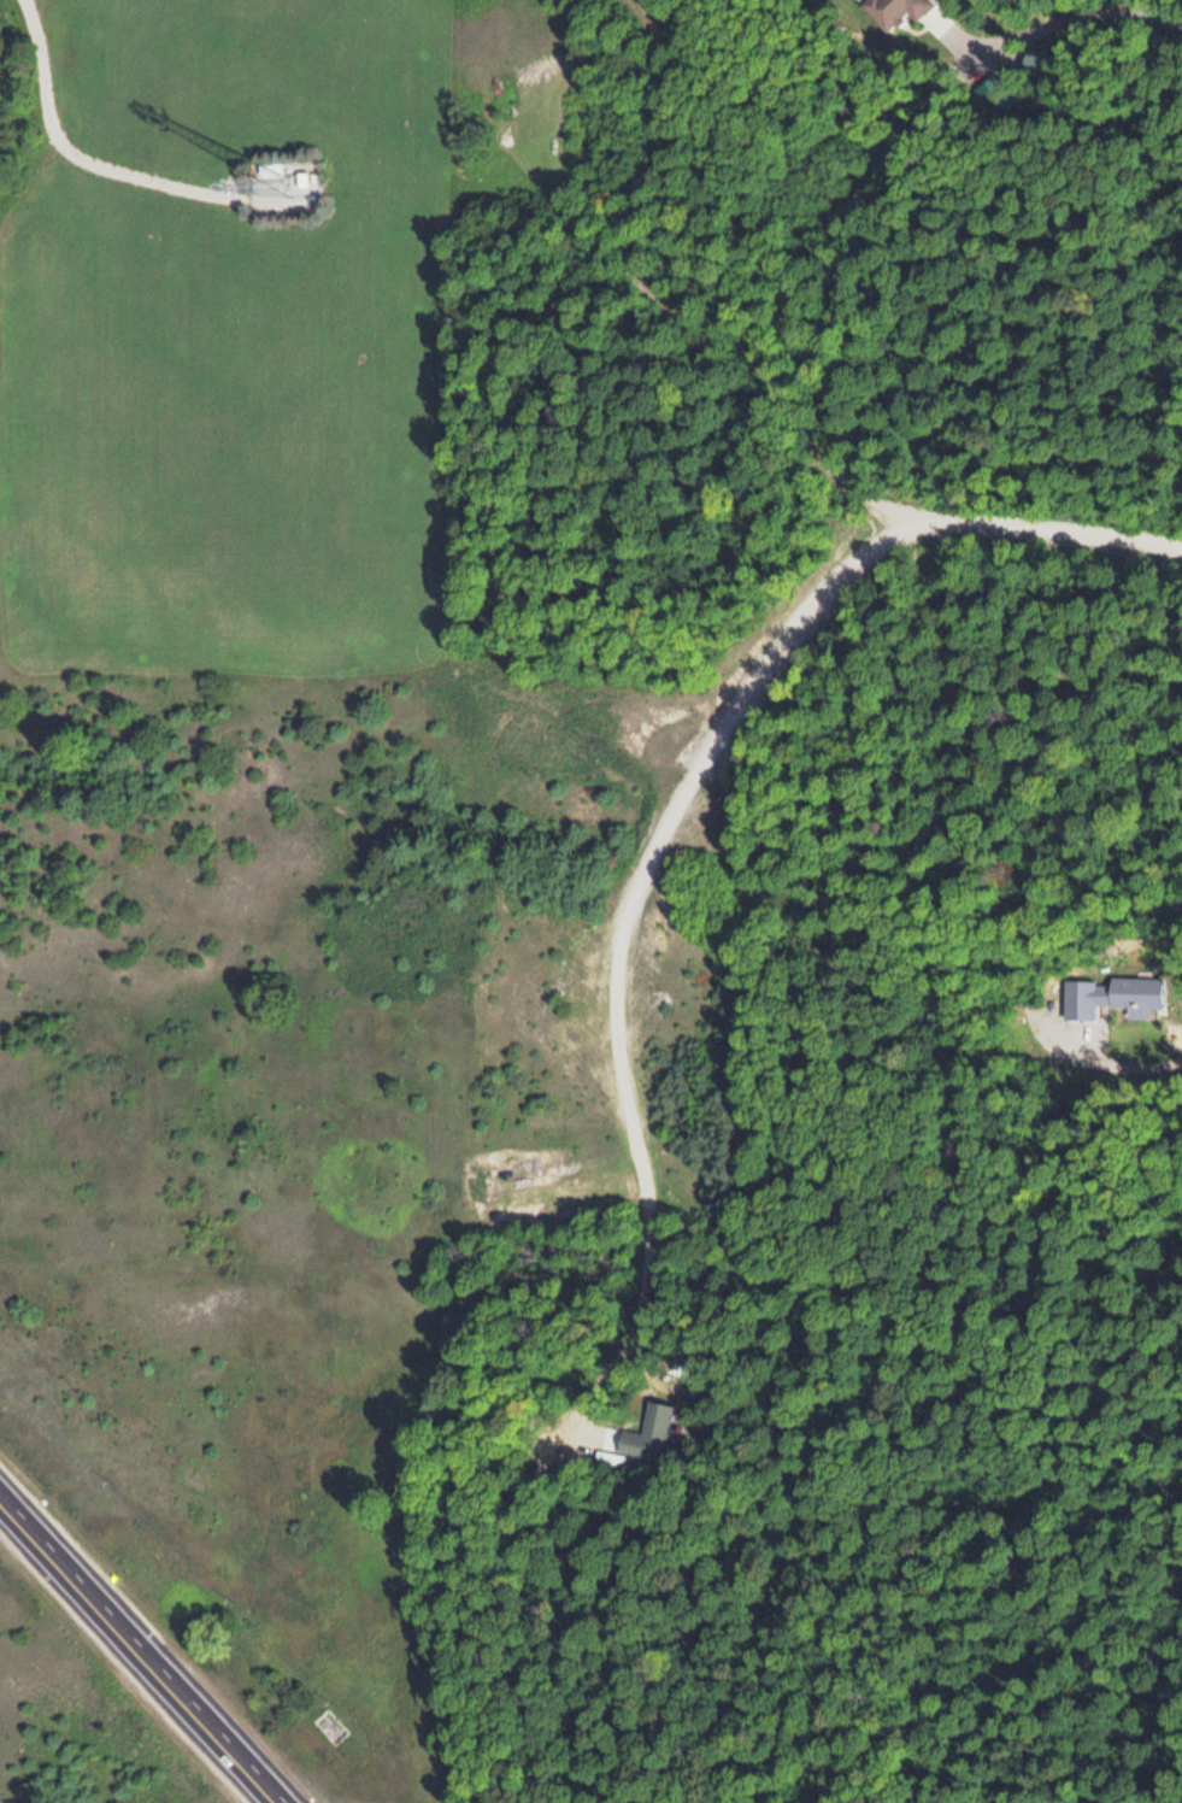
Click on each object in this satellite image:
building: (894, 10)
building: (1035, 61)
building: (648, 1431)
road: (137, 1649)

